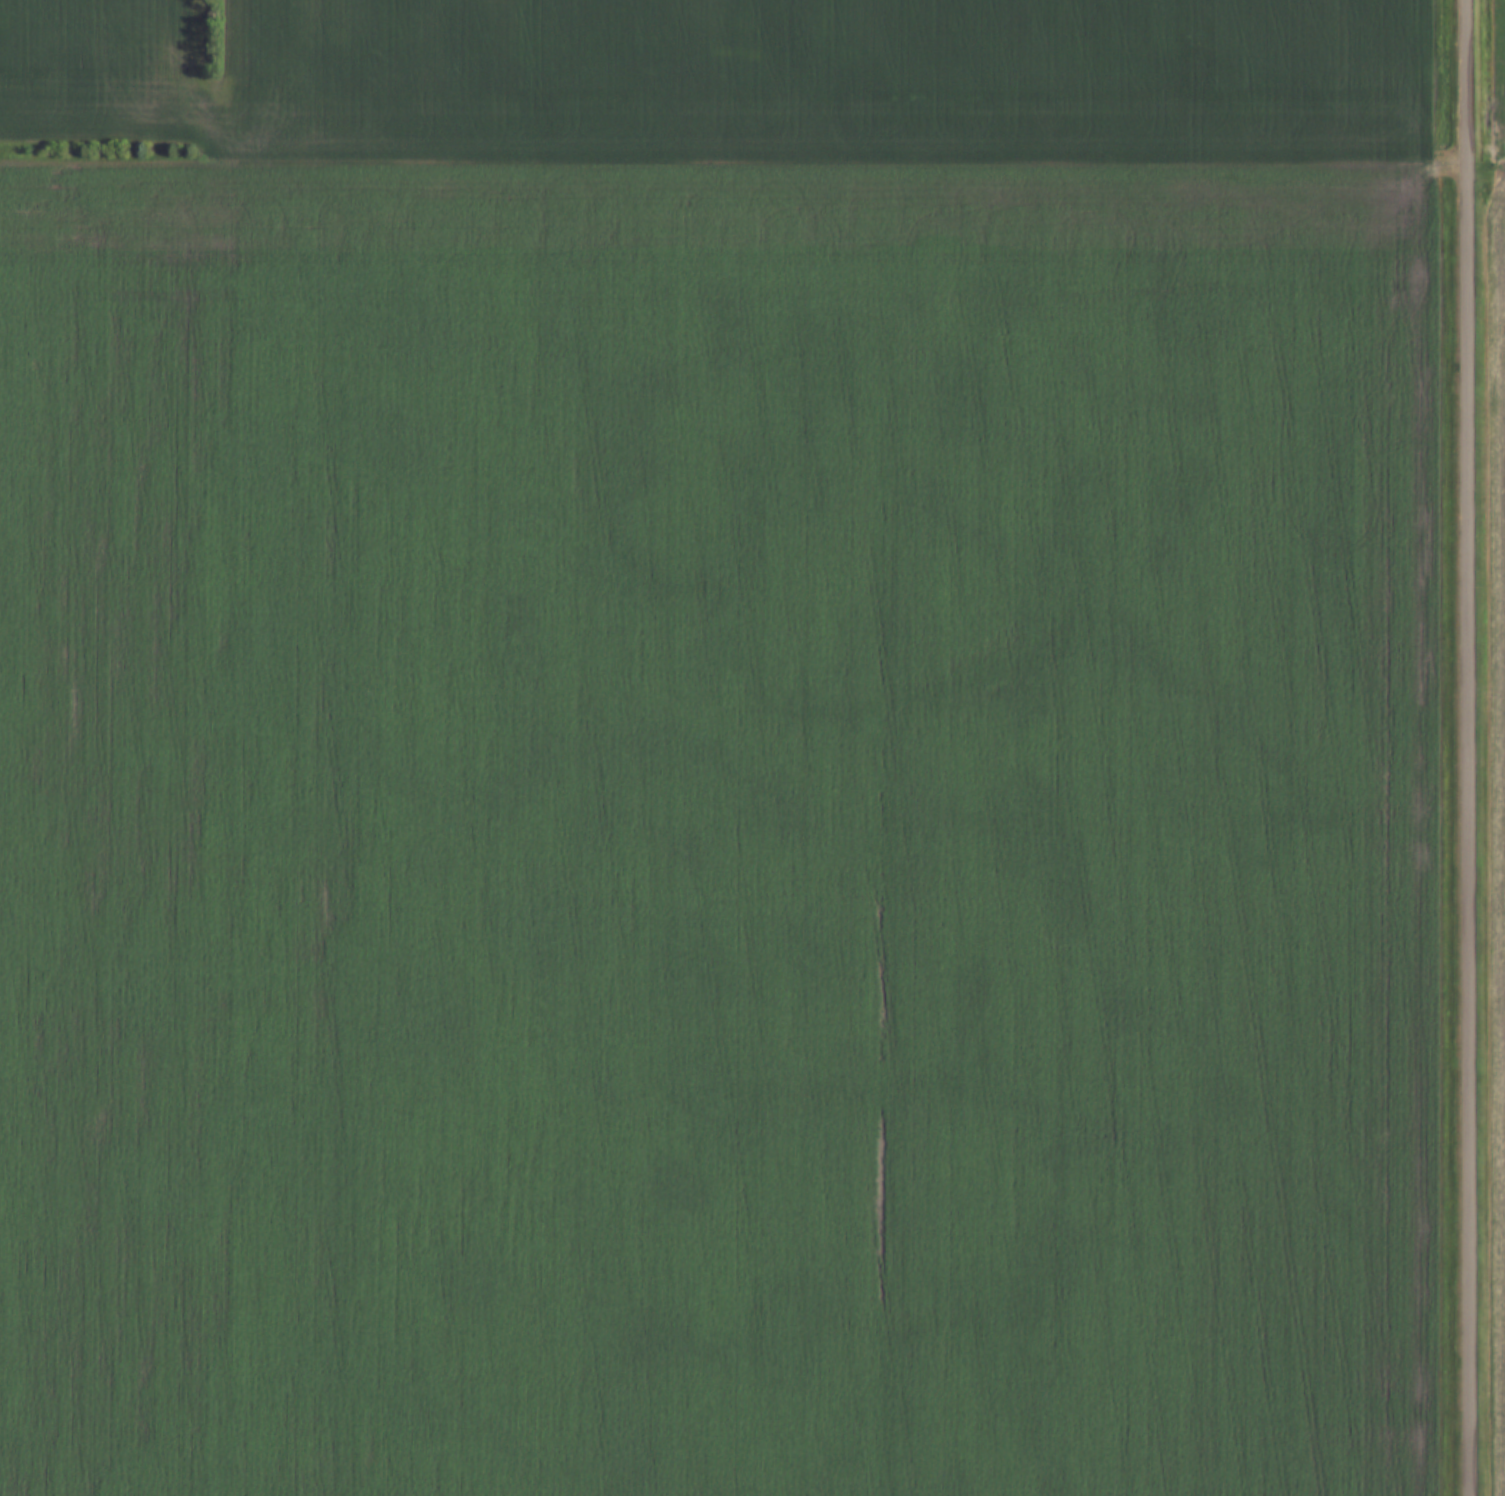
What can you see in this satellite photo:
road: (734, 165)
road: (1468, 748)

